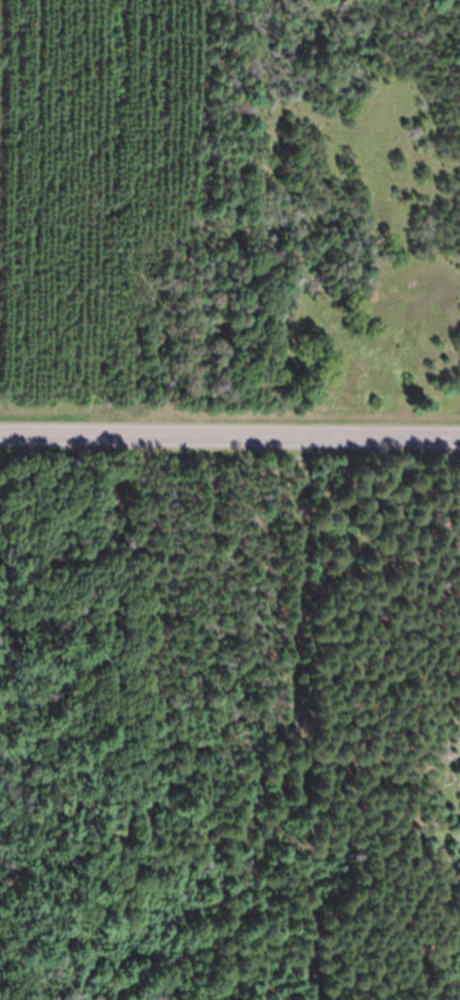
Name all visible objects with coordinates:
road: (230, 437)

